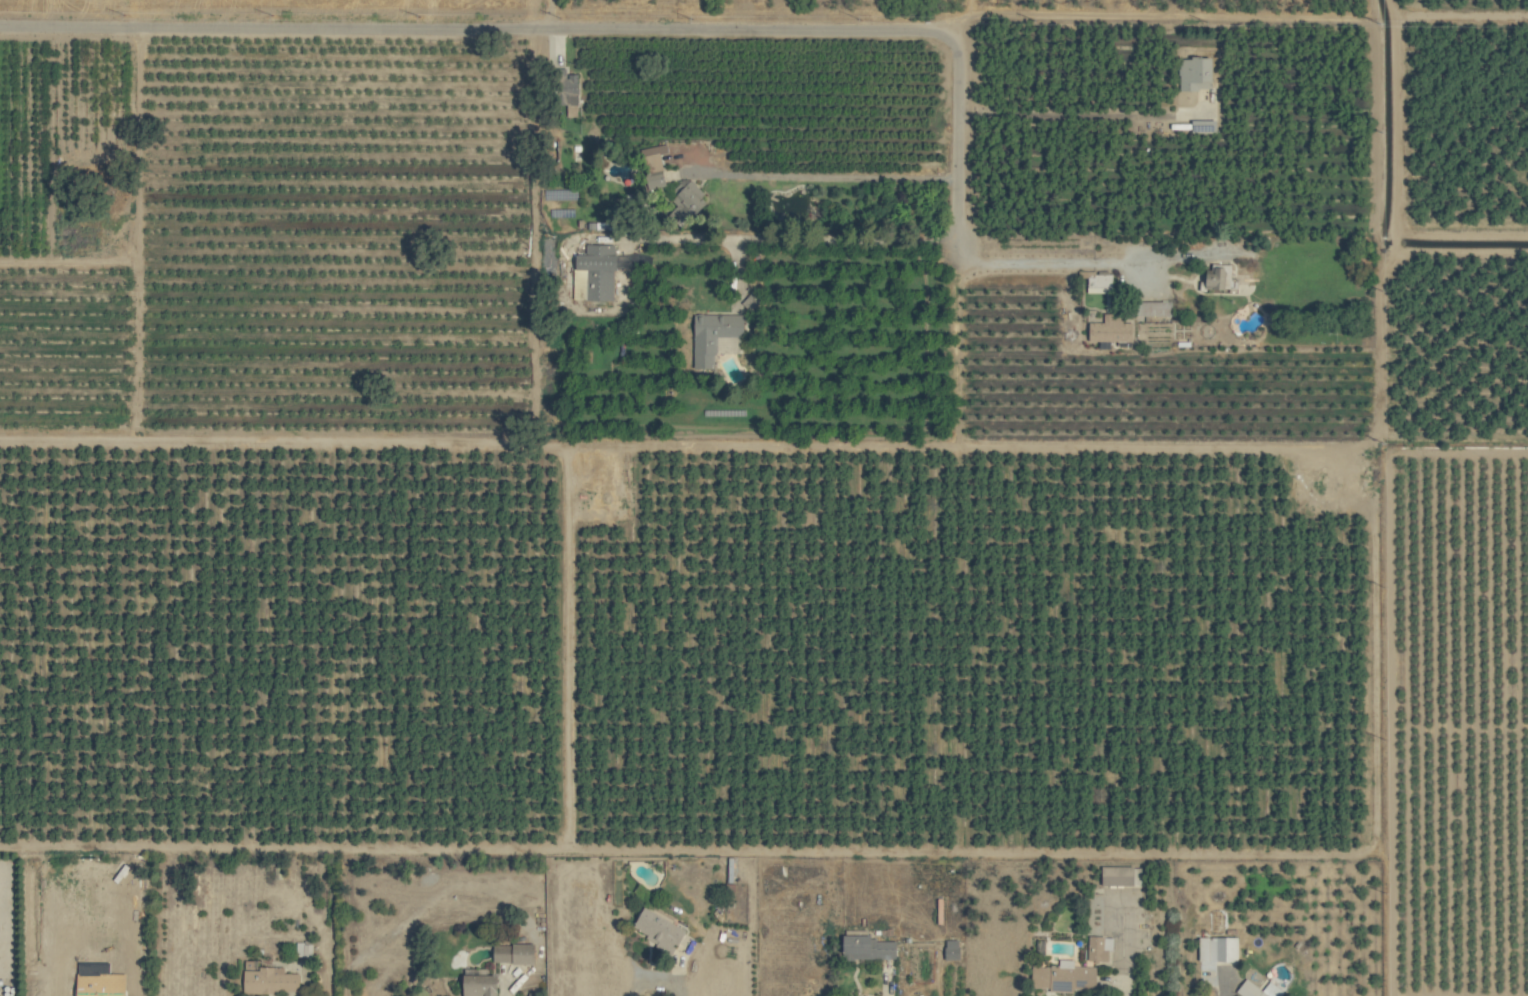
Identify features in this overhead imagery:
crop: (283, 8)
road: (545, 13)
road: (1460, 15)
road: (681, 28)
building: (1196, 74)
road: (1081, 114)
building: (652, 159)
road: (825, 176)
building: (688, 195)
road: (1461, 234)
road: (790, 238)
road: (1460, 251)
building: (600, 271)
road: (739, 272)
building: (1222, 278)
building: (1102, 282)
building: (1153, 308)
building: (1112, 329)
building: (714, 336)
road: (908, 446)
crop: (764, 498)
building: (1122, 876)
building: (657, 929)
building: (871, 948)
building: (1101, 948)
building: (1219, 949)
building: (304, 950)
building: (516, 956)
road: (653, 974)
building: (1065, 977)
building: (269, 979)
road: (889, 981)
building: (481, 983)
building: (1259, 989)
road: (1225, 991)

